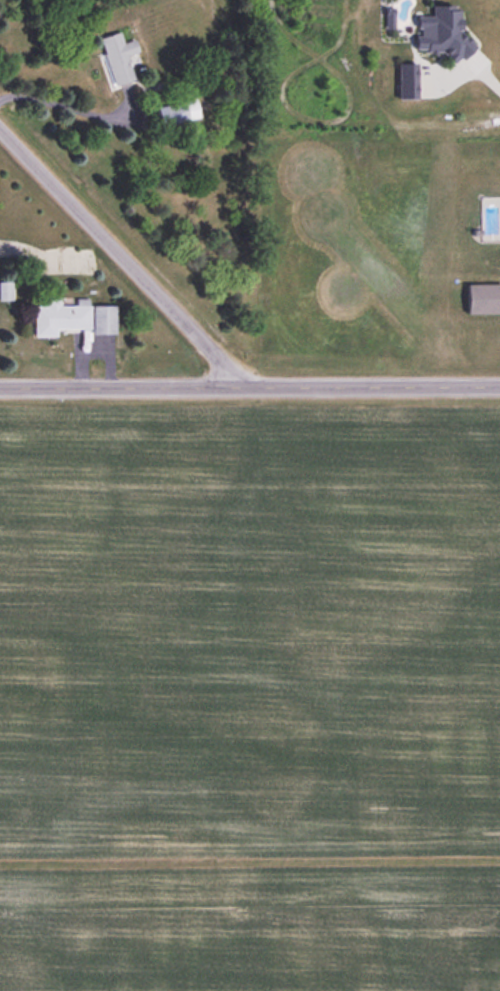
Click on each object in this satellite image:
building: (117, 57)
road: (486, 77)
building: (176, 112)
road: (123, 258)
building: (4, 291)
building: (482, 299)
building: (72, 318)
road: (249, 386)

